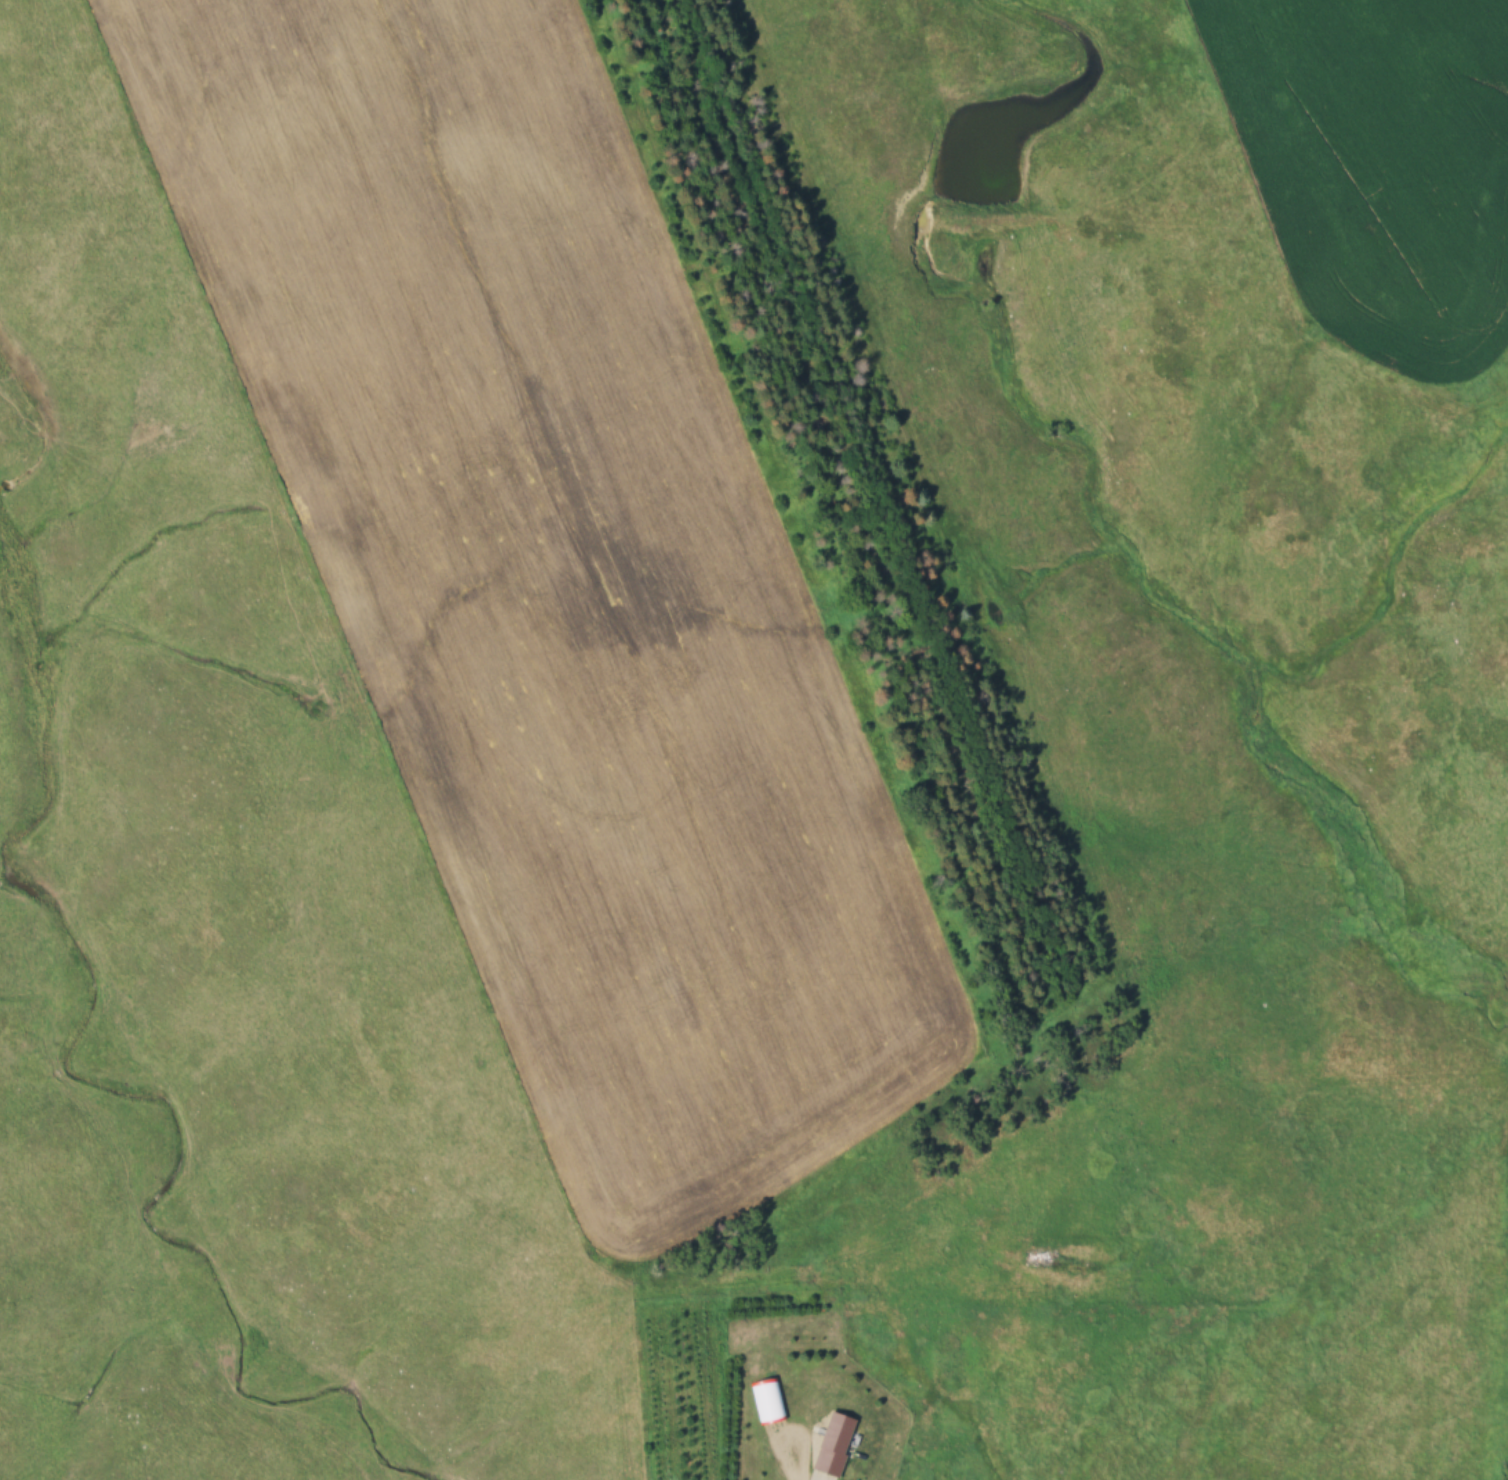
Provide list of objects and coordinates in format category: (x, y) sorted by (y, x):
building: (835, 1444)

